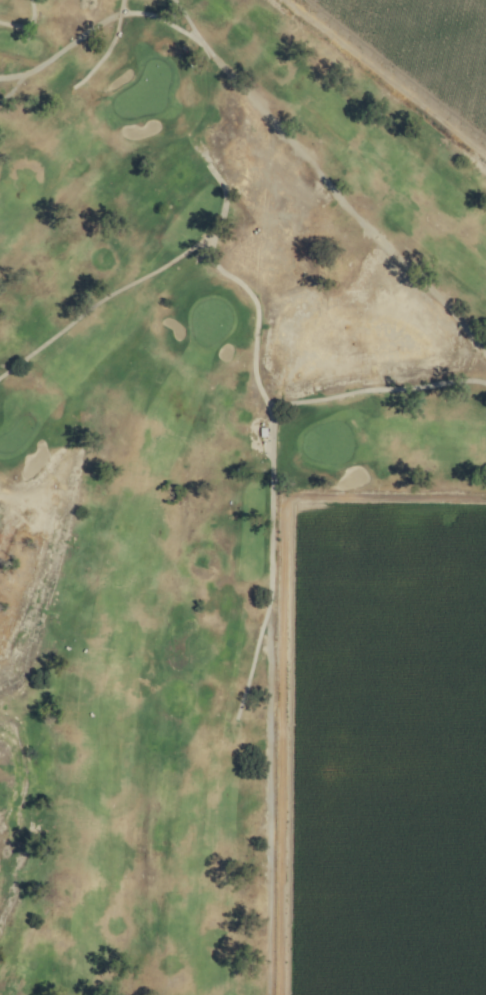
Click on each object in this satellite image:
crop: (413, 52)
park: (209, 476)
crop: (391, 747)

